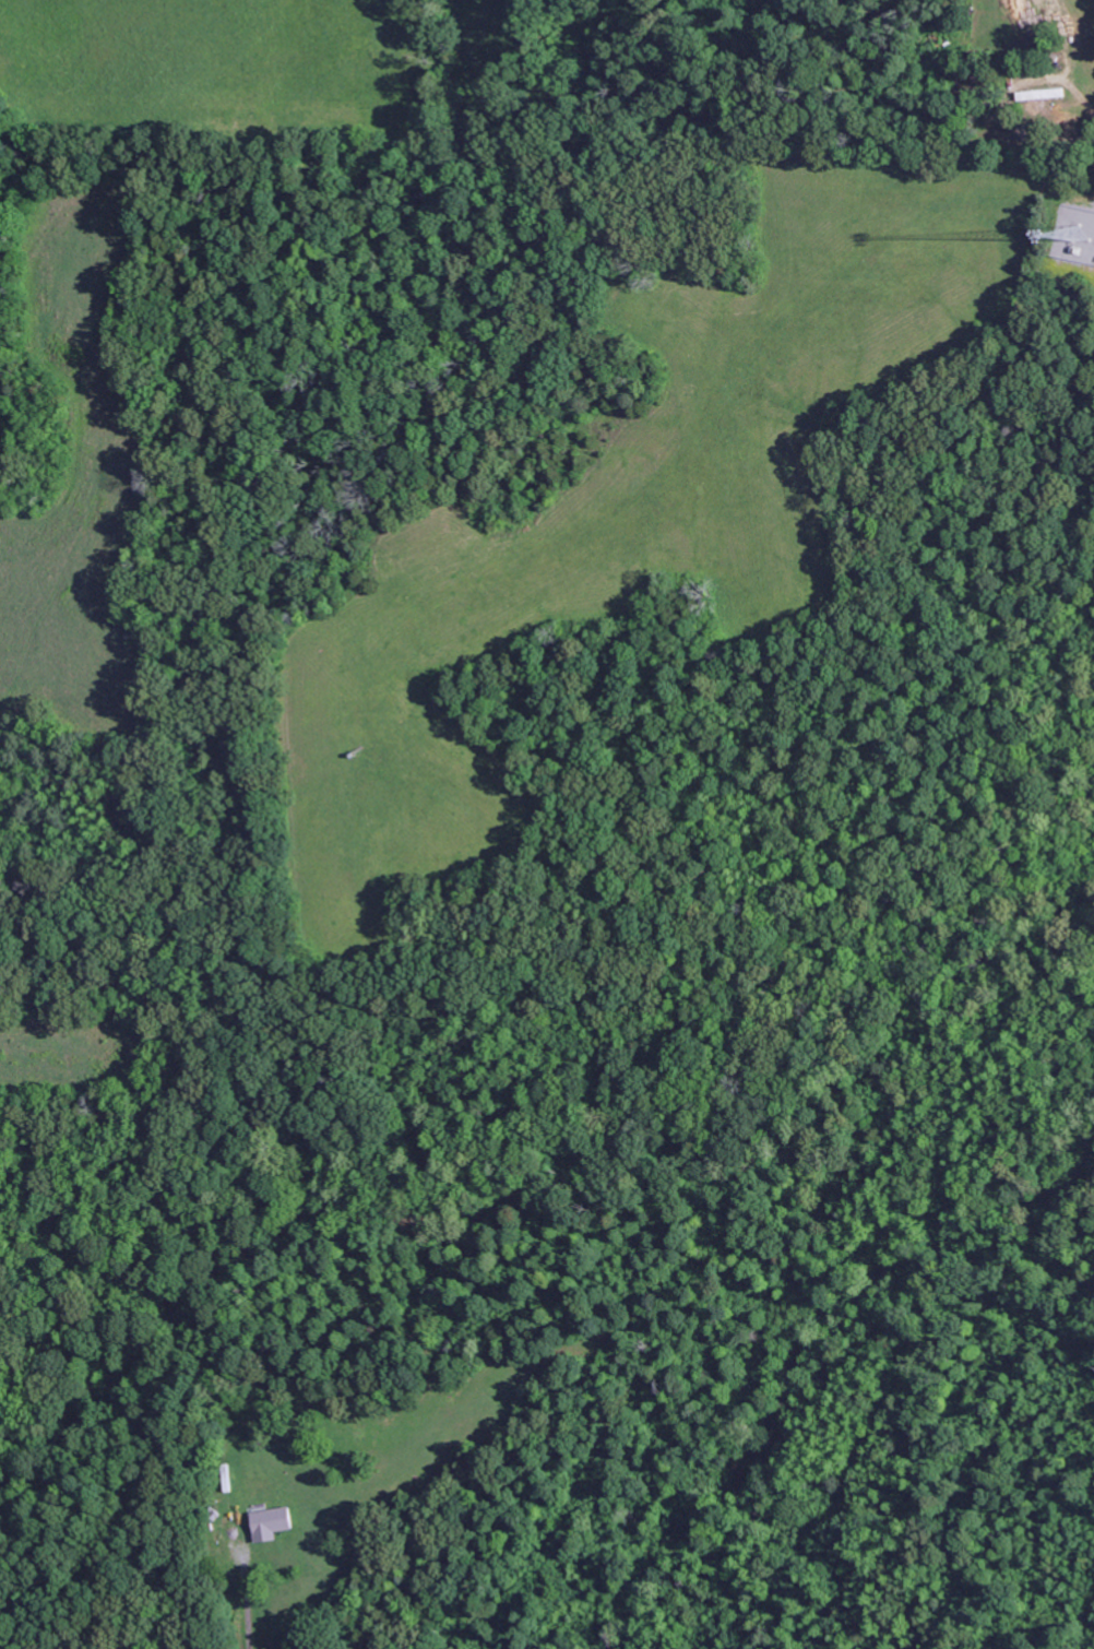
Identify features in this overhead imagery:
building: (1039, 95)
building: (269, 1523)
road: (243, 1604)

